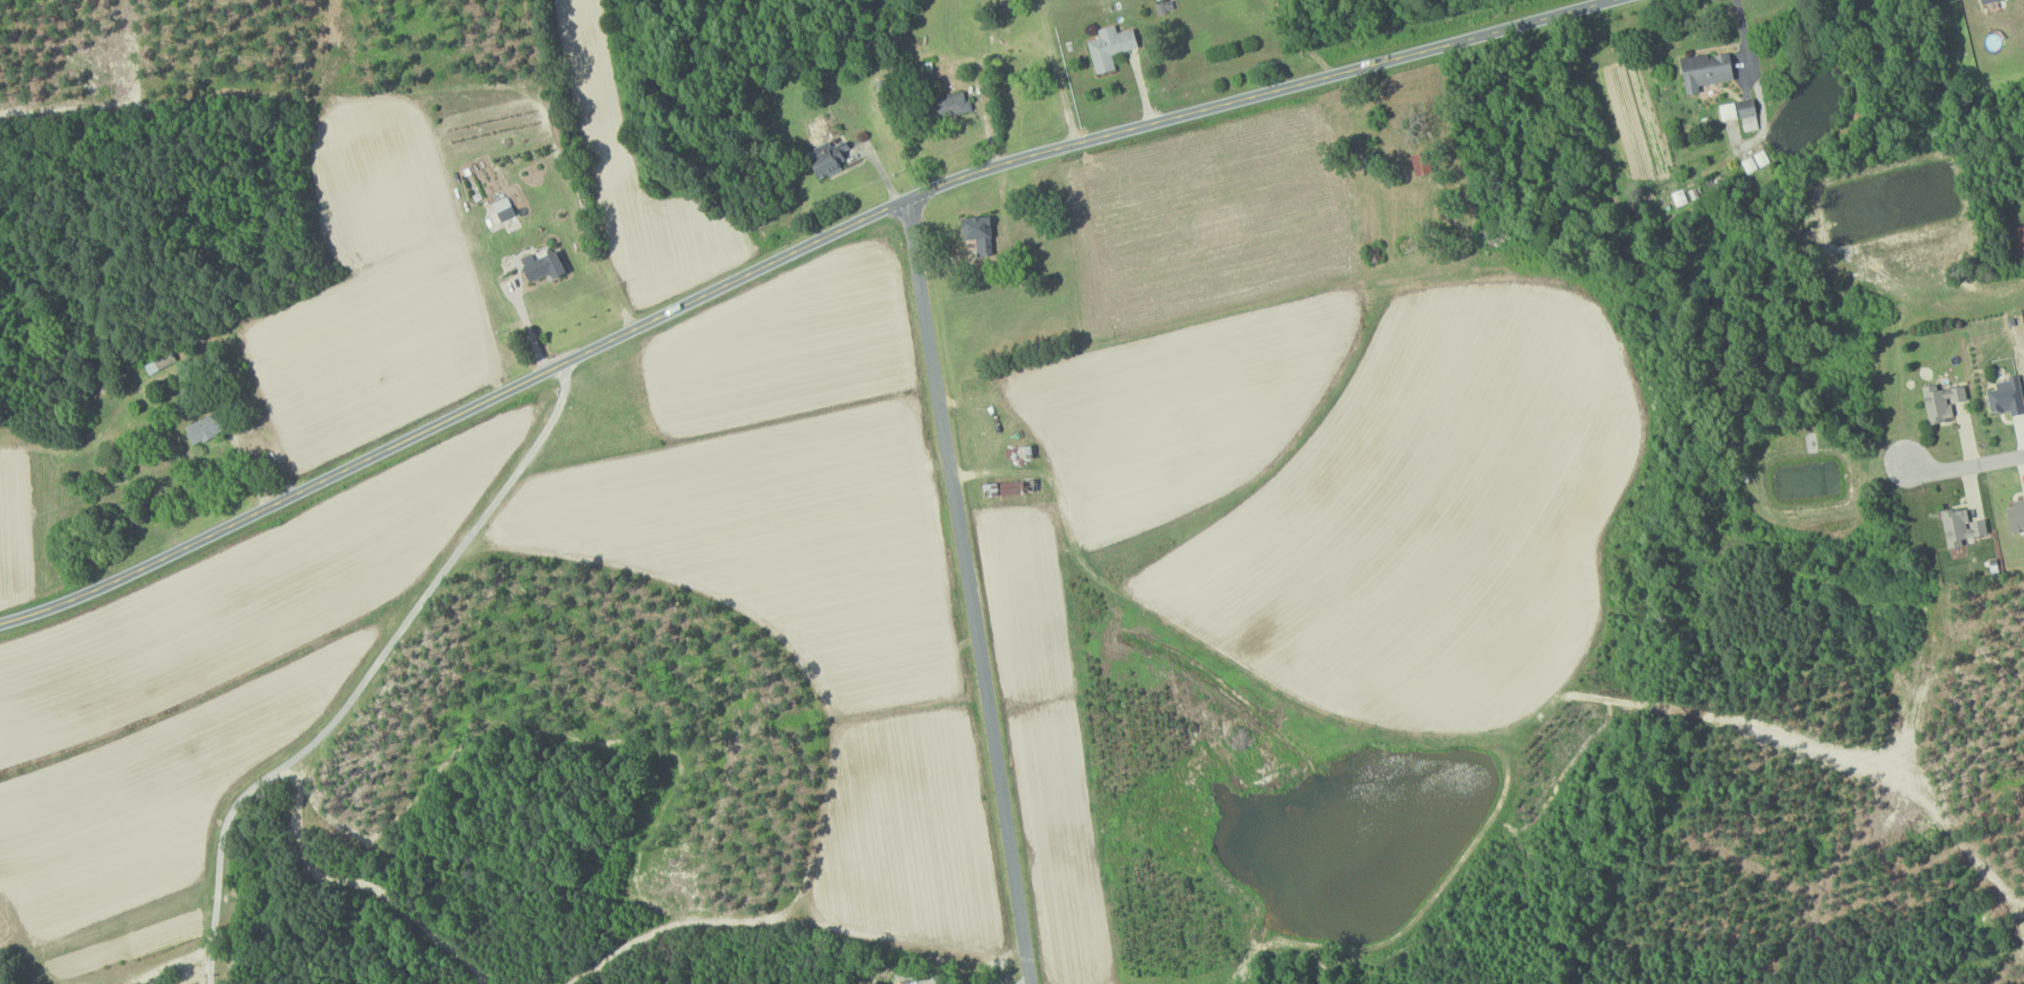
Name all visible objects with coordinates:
building: (1984, 1)
road: (1739, 34)
building: (1108, 47)
building: (1703, 71)
building: (950, 105)
building: (1747, 115)
building: (827, 158)
building: (1754, 161)
building: (1418, 165)
building: (502, 208)
building: (976, 233)
road: (790, 259)
building: (539, 266)
road: (529, 329)
building: (161, 363)
building: (2005, 397)
building: (1940, 402)
building: (200, 428)
road: (1961, 468)
building: (1014, 486)
building: (2014, 515)
building: (1959, 527)
road: (443, 574)
road: (969, 592)
road: (297, 799)
road: (173, 965)
road: (1027, 982)
road: (937, 983)

